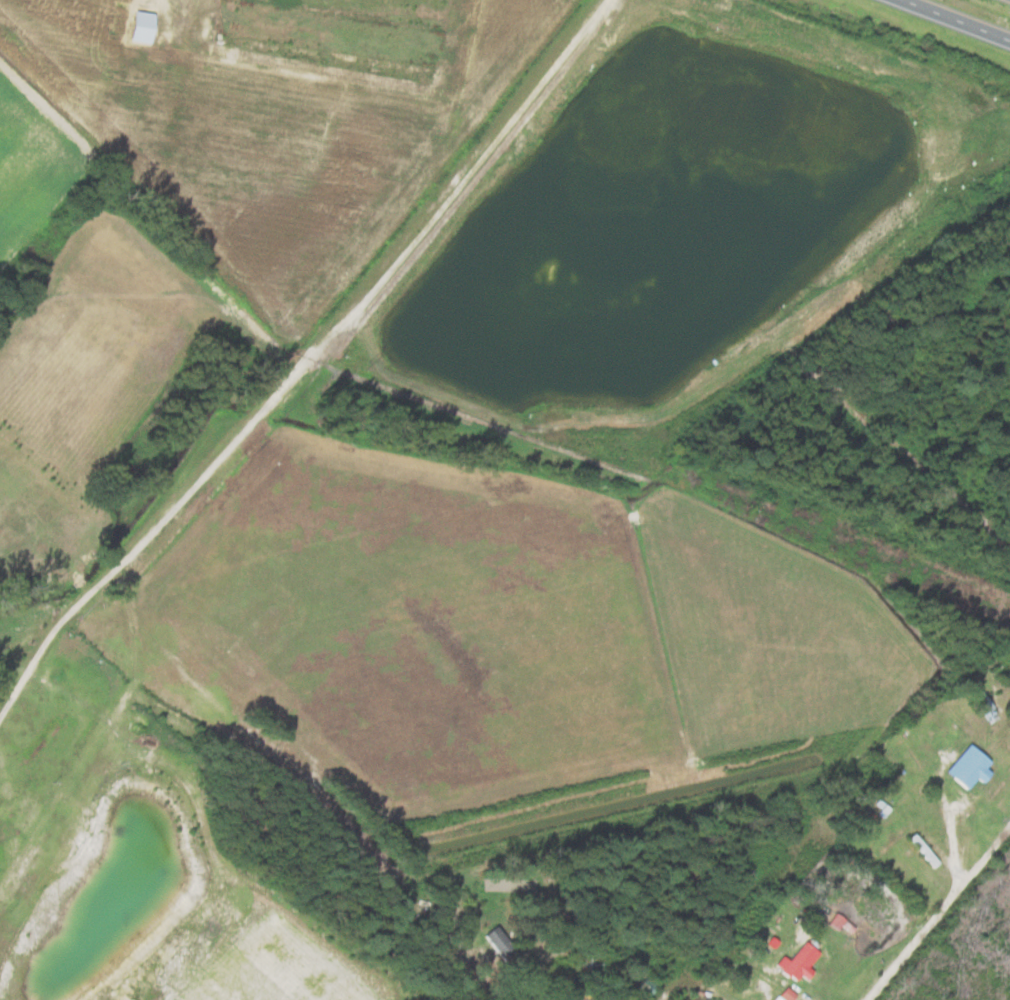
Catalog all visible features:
road: (957, 19)
building: (139, 24)
road: (299, 358)
power tower: (367, 365)
power tower: (746, 509)
building: (986, 705)
building: (40, 735)
road: (304, 786)
building: (967, 792)
building: (921, 850)
road: (939, 913)
building: (499, 945)
building: (645, 987)

